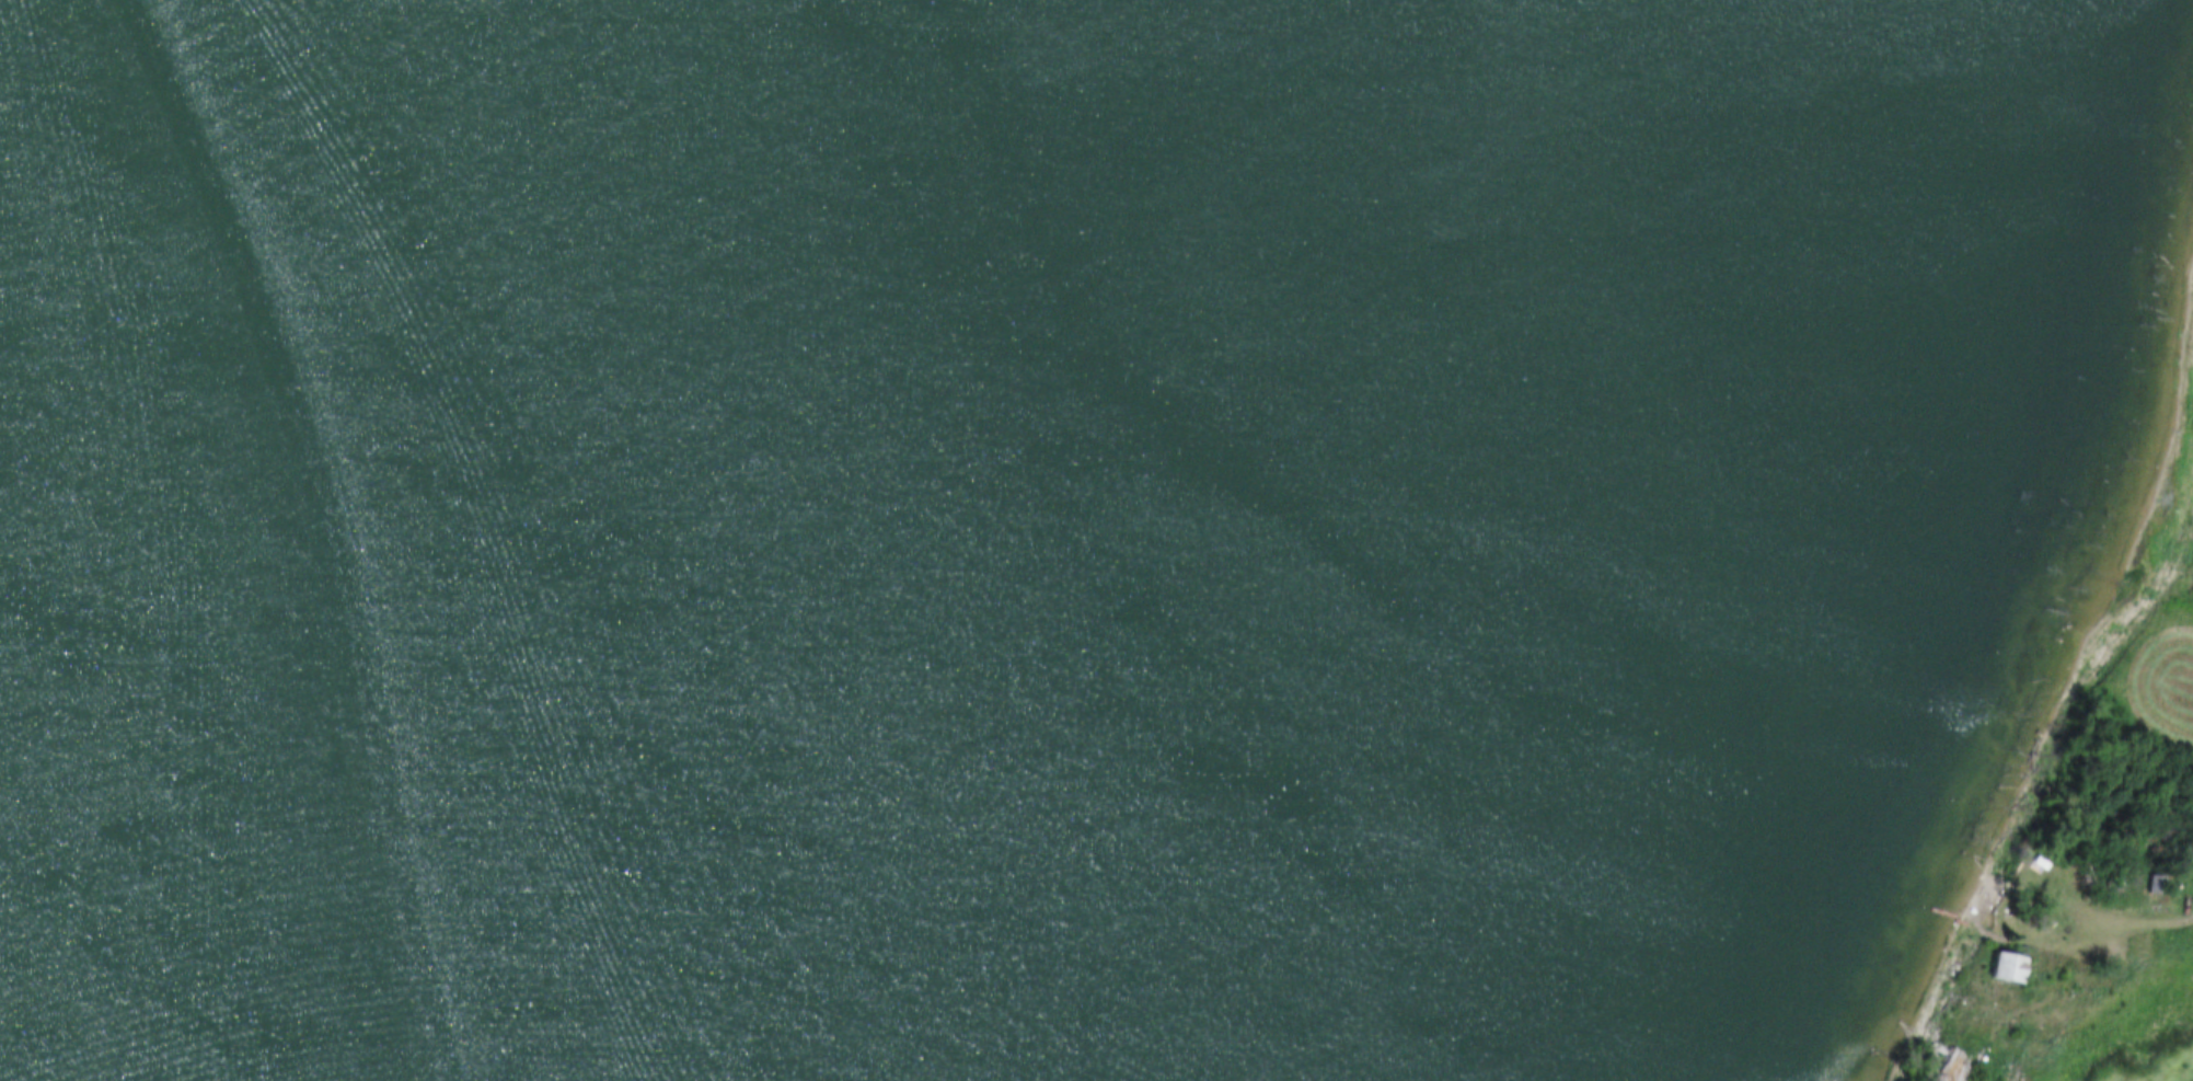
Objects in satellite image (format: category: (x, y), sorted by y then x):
building: (1994, 964)
building: (2010, 968)
road: (2112, 1009)

